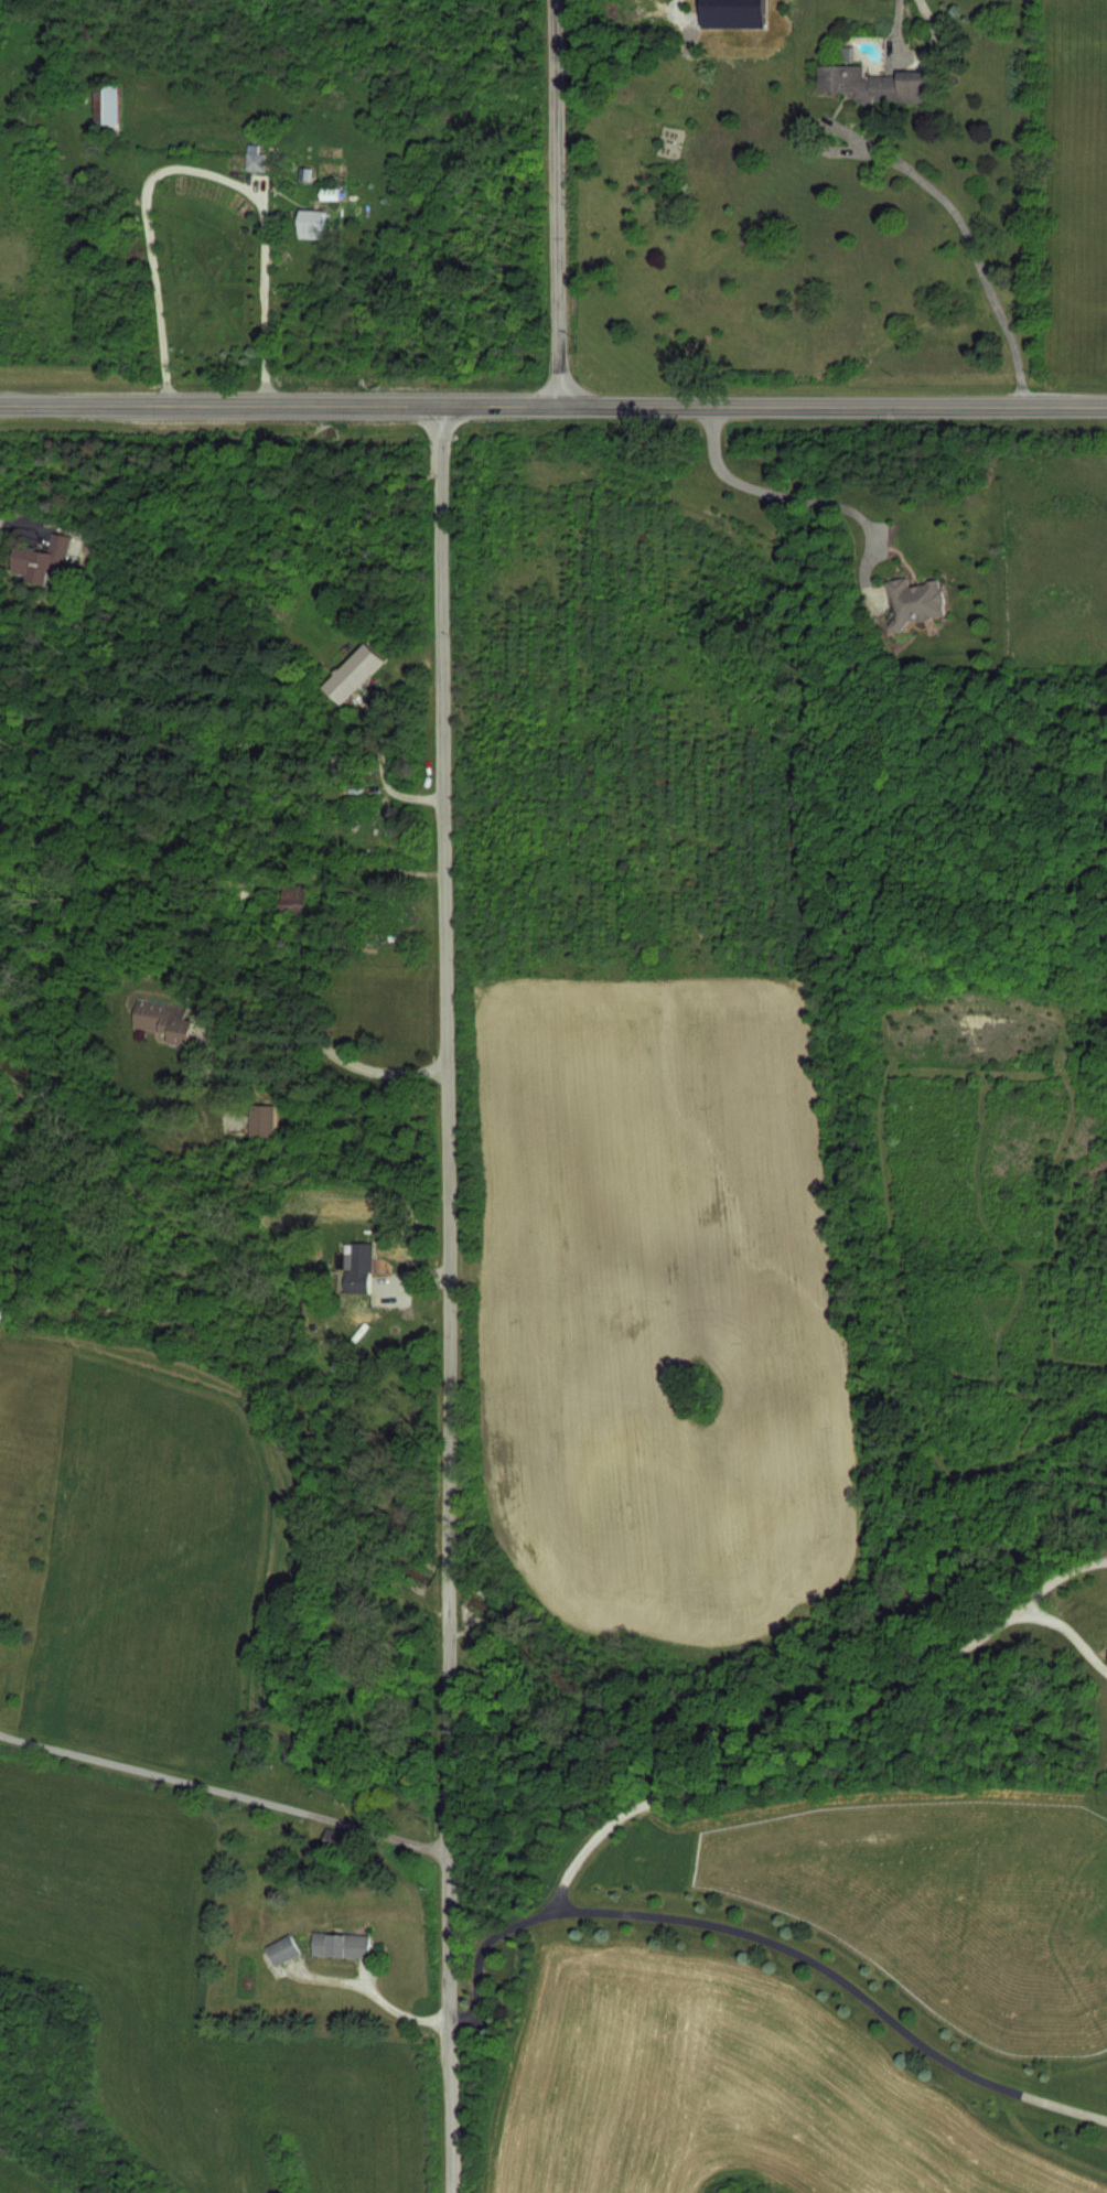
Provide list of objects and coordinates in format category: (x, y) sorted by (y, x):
building: (657, 0)
road: (900, 21)
building: (87, 26)
building: (869, 84)
building: (105, 105)
building: (254, 155)
road: (194, 169)
building: (329, 193)
road: (558, 202)
building: (311, 223)
road: (968, 244)
road: (552, 404)
road: (769, 493)
building: (41, 556)
building: (914, 601)
building: (352, 673)
building: (162, 1019)
road: (332, 1050)
building: (261, 1120)
building: (357, 1268)
road: (450, 1298)
road: (753, 1787)
road: (226, 1791)
building: (344, 1945)
building: (286, 1949)
road: (841, 1980)
road: (402, 2013)

